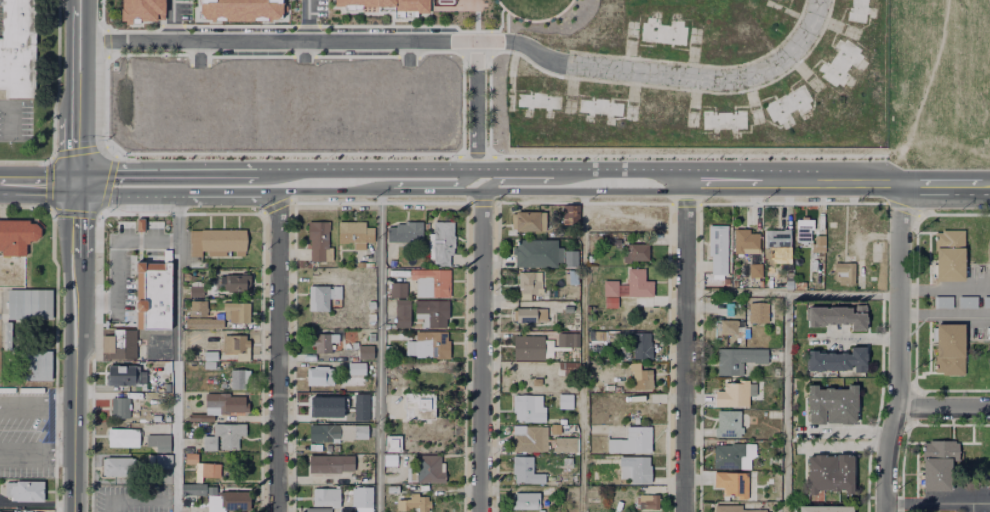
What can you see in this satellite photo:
building: (387, 4)
building: (238, 9)
building: (139, 10)
building: (854, 10)
road: (307, 20)
road: (171, 21)
building: (660, 28)
building: (724, 29)
road: (275, 41)
building: (18, 48)
building: (838, 60)
road: (76, 61)
road: (664, 73)
building: (534, 97)
building: (785, 100)
building: (592, 102)
road: (475, 104)
building: (658, 110)
road: (10, 116)
building: (720, 116)
road: (76, 153)
road: (384, 168)
road: (532, 168)
road: (623, 168)
road: (164, 171)
road: (258, 171)
road: (467, 179)
road: (494, 179)
road: (38, 183)
traffic signals: (76, 184)
road: (751, 184)
road: (858, 184)
road: (944, 185)
road: (424, 190)
road: (572, 190)
road: (333, 191)
road: (125, 195)
road: (226, 195)
building: (568, 214)
building: (522, 217)
road: (75, 223)
building: (139, 226)
building: (801, 227)
building: (350, 229)
building: (405, 230)
building: (15, 236)
building: (774, 237)
building: (742, 238)
building: (318, 239)
building: (215, 240)
building: (441, 242)
building: (818, 244)
building: (715, 246)
building: (634, 249)
building: (945, 251)
building: (541, 255)
building: (988, 256)
road: (116, 259)
building: (752, 268)
building: (769, 269)
building: (844, 270)
building: (566, 275)
building: (234, 280)
building: (431, 280)
building: (635, 281)
building: (524, 282)
building: (796, 283)
building: (607, 285)
building: (397, 287)
road: (943, 287)
building: (195, 289)
road: (790, 293)
building: (320, 294)
building: (152, 295)
building: (965, 299)
building: (940, 300)
building: (985, 300)
building: (27, 302)
building: (566, 302)
building: (196, 306)
road: (75, 309)
building: (237, 309)
building: (401, 310)
building: (431, 310)
building: (759, 310)
building: (528, 312)
road: (943, 314)
building: (839, 316)
building: (203, 320)
building: (728, 324)
building: (594, 333)
building: (6, 334)
building: (561, 337)
building: (322, 339)
building: (118, 342)
building: (236, 343)
building: (430, 343)
building: (638, 344)
building: (525, 345)
building: (944, 346)
road: (684, 347)
building: (360, 348)
road: (896, 348)
building: (989, 348)
road: (276, 351)
road: (377, 351)
road: (480, 351)
road: (582, 351)
road: (175, 353)
building: (209, 357)
building: (734, 357)
building: (839, 360)
building: (37, 365)
building: (356, 367)
building: (564, 367)
building: (120, 372)
building: (319, 374)
building: (639, 376)
building: (237, 377)
building: (534, 380)
building: (730, 392)
road: (63, 394)
building: (225, 400)
building: (562, 400)
road: (26, 401)
road: (785, 401)
building: (419, 403)
building: (121, 405)
building: (832, 405)
building: (525, 406)
building: (360, 407)
building: (326, 408)
road: (942, 408)
building: (199, 415)
building: (726, 422)
building: (360, 430)
building: (322, 431)
road: (74, 433)
building: (223, 435)
building: (121, 436)
building: (528, 438)
building: (629, 440)
building: (158, 441)
building: (392, 441)
building: (726, 454)
road: (26, 459)
building: (565, 459)
road: (63, 460)
building: (158, 461)
building: (390, 462)
building: (935, 462)
building: (331, 465)
building: (201, 466)
building: (633, 466)
building: (120, 467)
building: (425, 468)
building: (523, 469)
building: (830, 473)
building: (969, 480)
building: (730, 481)
building: (191, 487)
building: (392, 488)
building: (23, 491)
building: (592, 494)
building: (325, 495)
parking lot: (131, 497)
building: (232, 498)
building: (361, 498)
building: (524, 498)
building: (646, 499)
road: (132, 500)
building: (414, 502)
road: (937, 502)
building: (820, 507)
road: (970, 507)
building: (315, 508)
building: (732, 508)
building: (2, 511)

